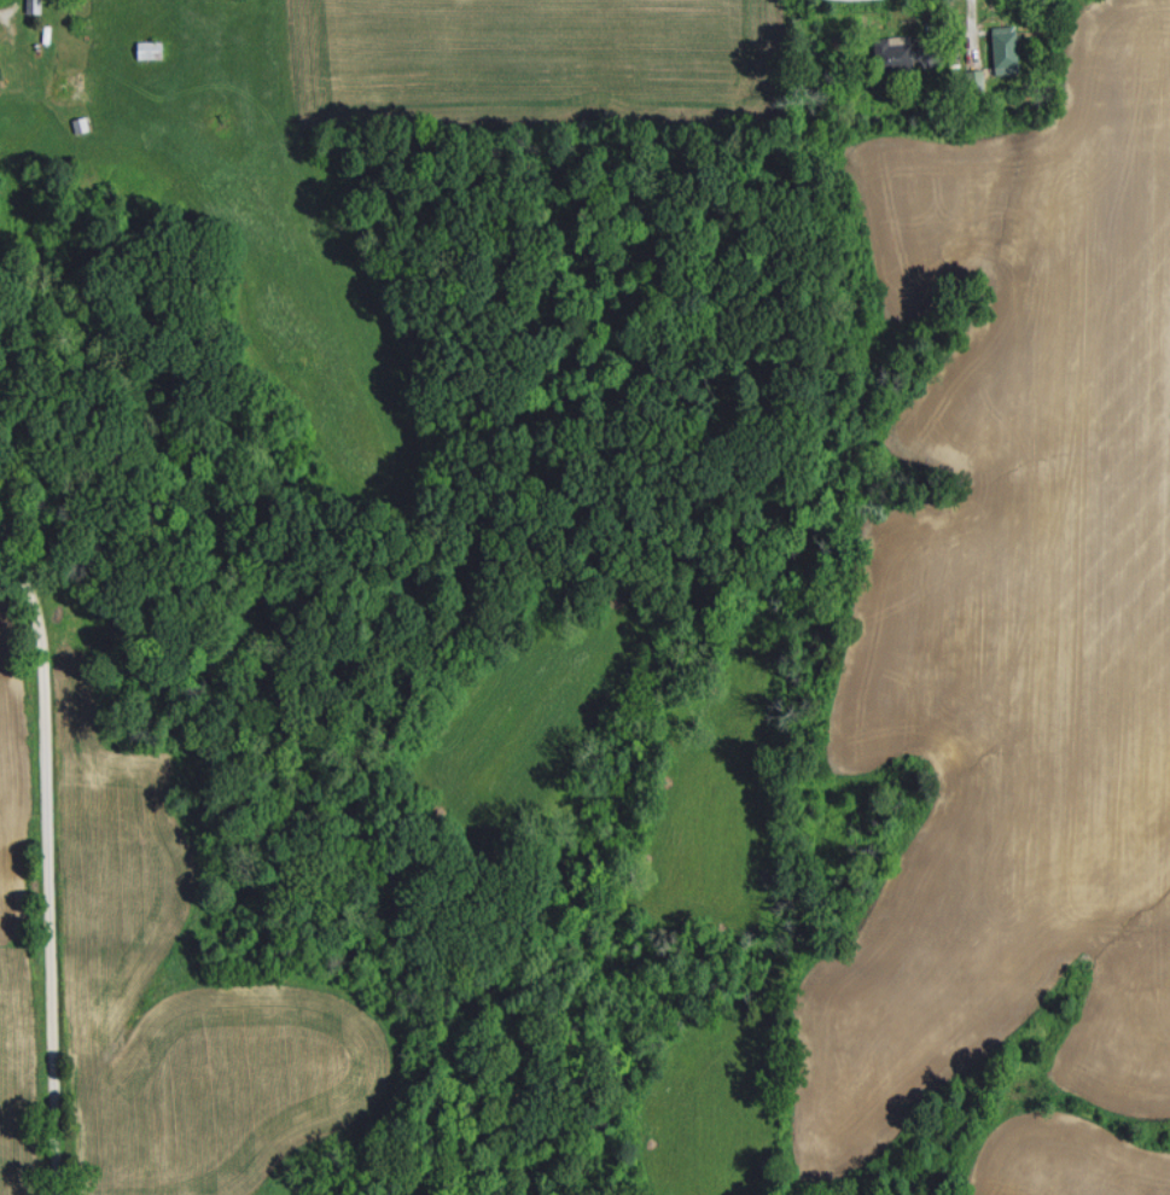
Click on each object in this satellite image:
building: (36, 5)
building: (1008, 47)
building: (900, 54)
road: (47, 853)

